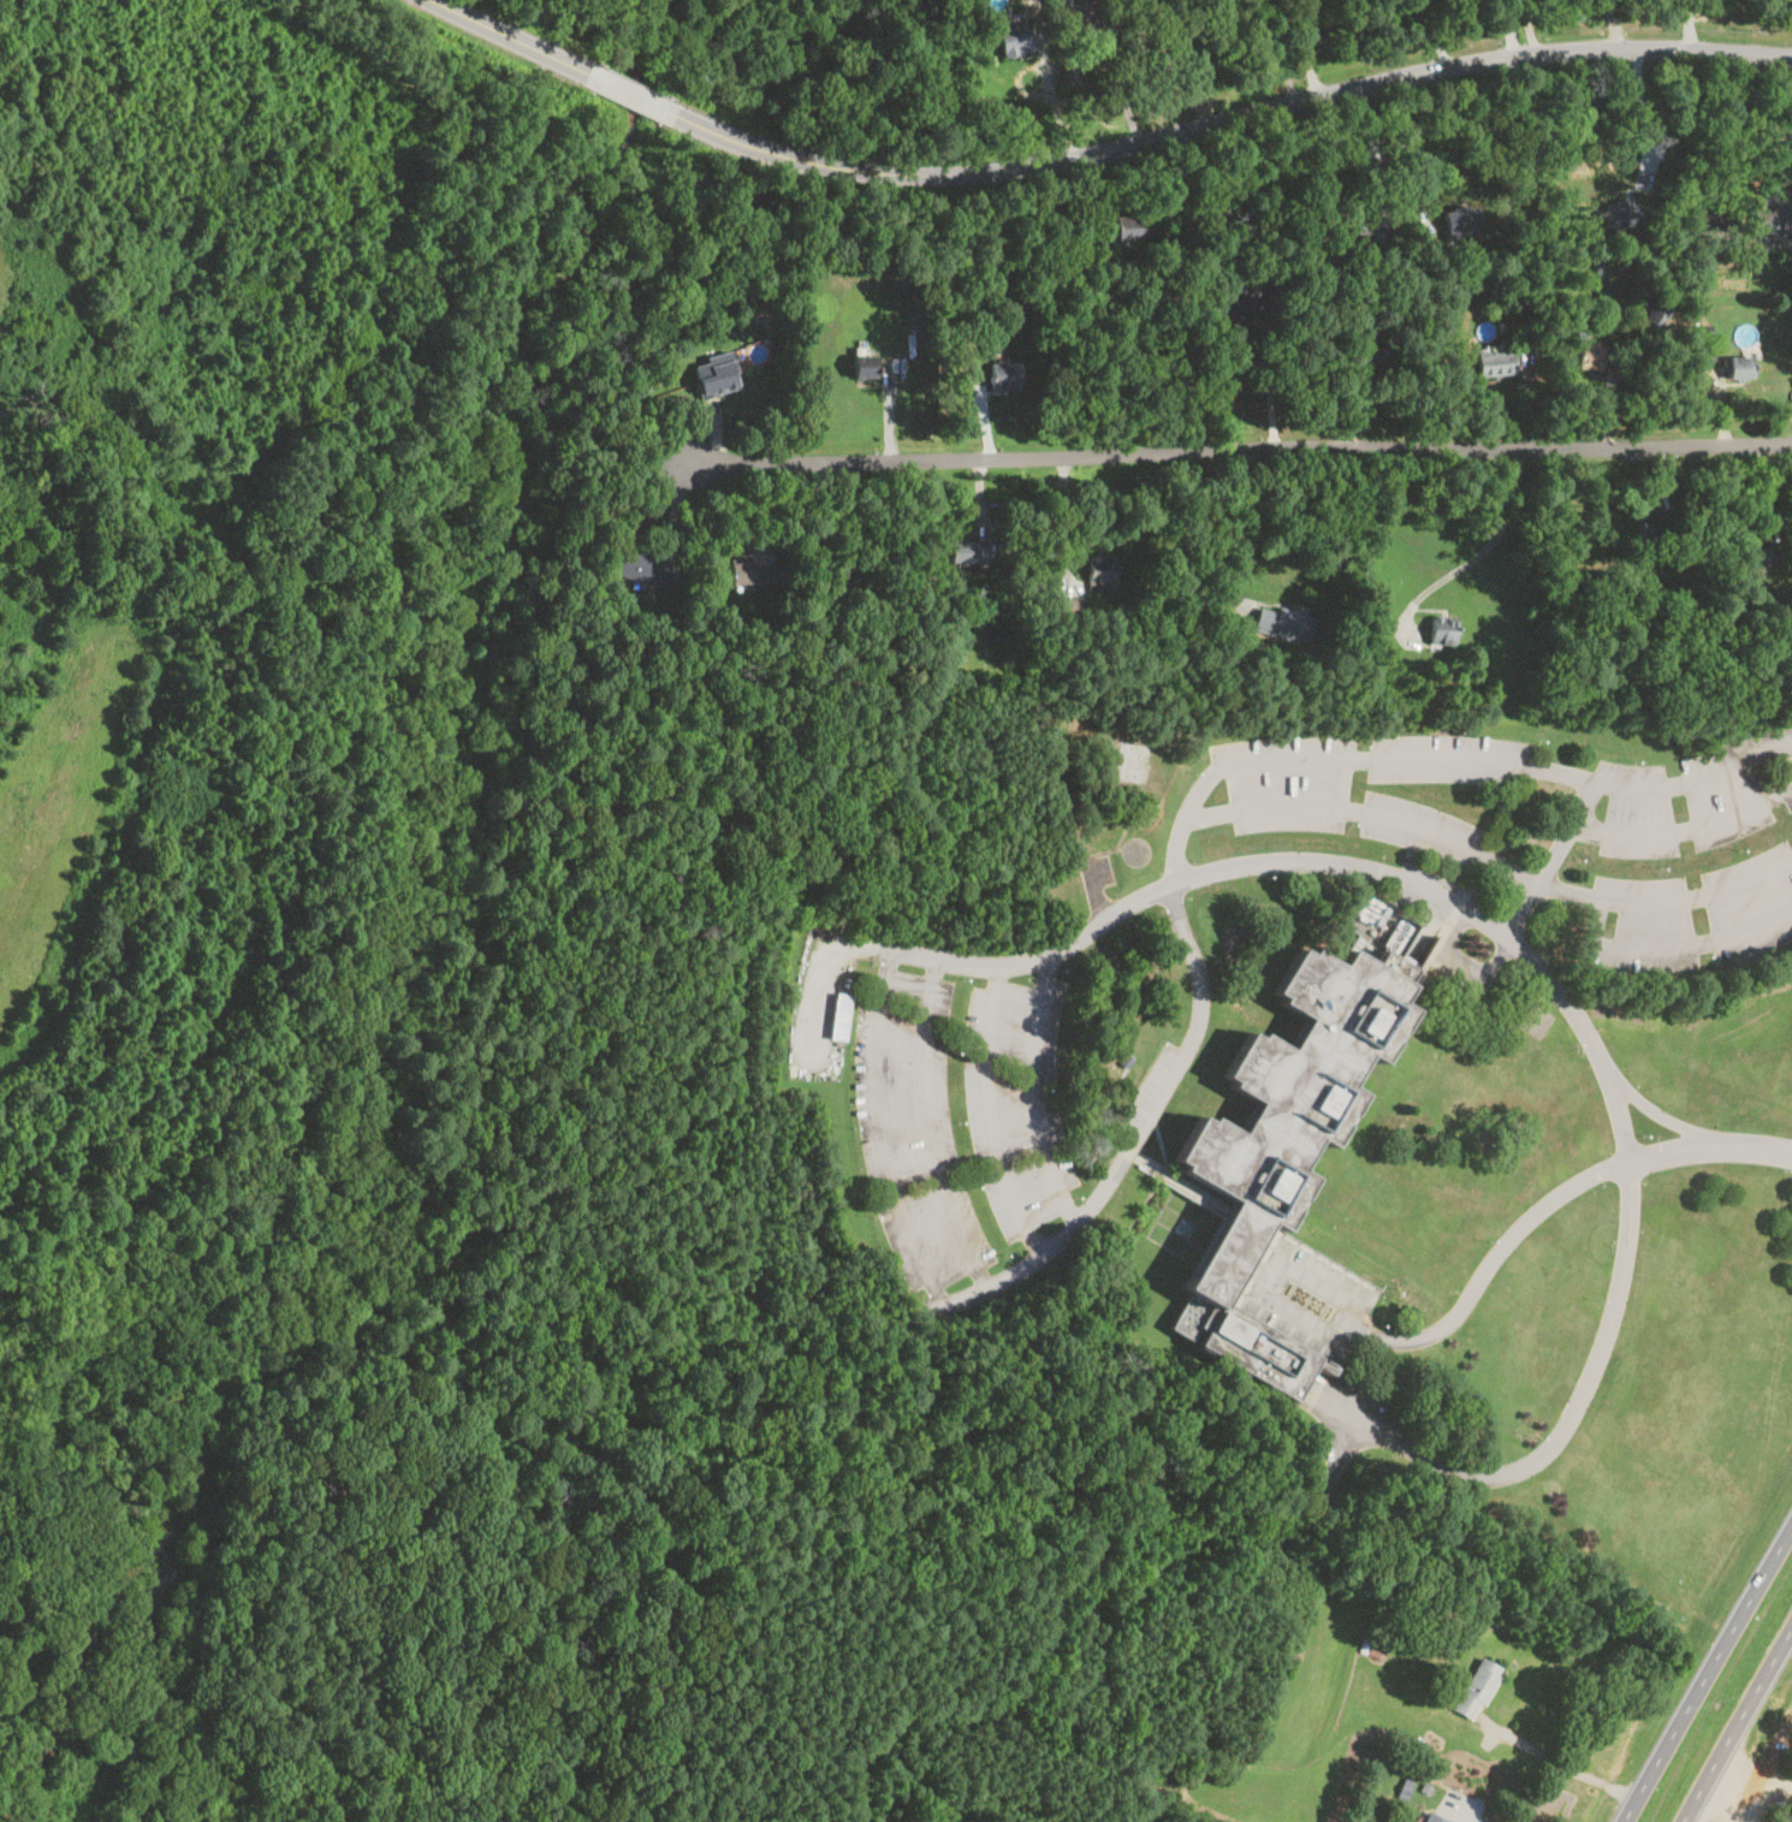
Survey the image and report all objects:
road: (1531, 26)
road: (1508, 28)
road: (1436, 34)
building: (1011, 40)
road: (1167, 66)
road: (1110, 71)
road: (1052, 91)
road: (1638, 94)
road: (1739, 118)
road: (1691, 138)
road: (1401, 140)
road: (1094, 153)
building: (1707, 218)
building: (1369, 221)
building: (1772, 222)
building: (1128, 226)
building: (1239, 303)
building: (1702, 343)
building: (1586, 355)
building: (1493, 362)
building: (861, 366)
building: (1735, 367)
building: (1002, 372)
building: (713, 375)
road: (1355, 390)
road: (1272, 392)
road: (1223, 457)
building: (1644, 533)
road: (1479, 551)
building: (1755, 559)
building: (640, 568)
building: (1097, 572)
building: (749, 574)
building: (1281, 621)
building: (1440, 630)
road: (1289, 760)
road: (1645, 779)
road: (1684, 827)
road: (1565, 830)
helipad: (1135, 849)
road: (1490, 856)
road: (1315, 860)
road: (1476, 882)
road: (1521, 909)
road: (1669, 945)
building: (837, 1016)
road: (1038, 1090)
road: (990, 1109)
road: (1618, 1110)
building: (1283, 1123)
road: (927, 1127)
road: (1532, 1215)
road: (1021, 1268)
road: (1576, 1409)
building: (1372, 1642)
road: (1707, 1673)
building: (1474, 1687)
road: (1737, 1725)
road: (1556, 1759)
road: (1455, 1810)
building: (1431, 1817)

